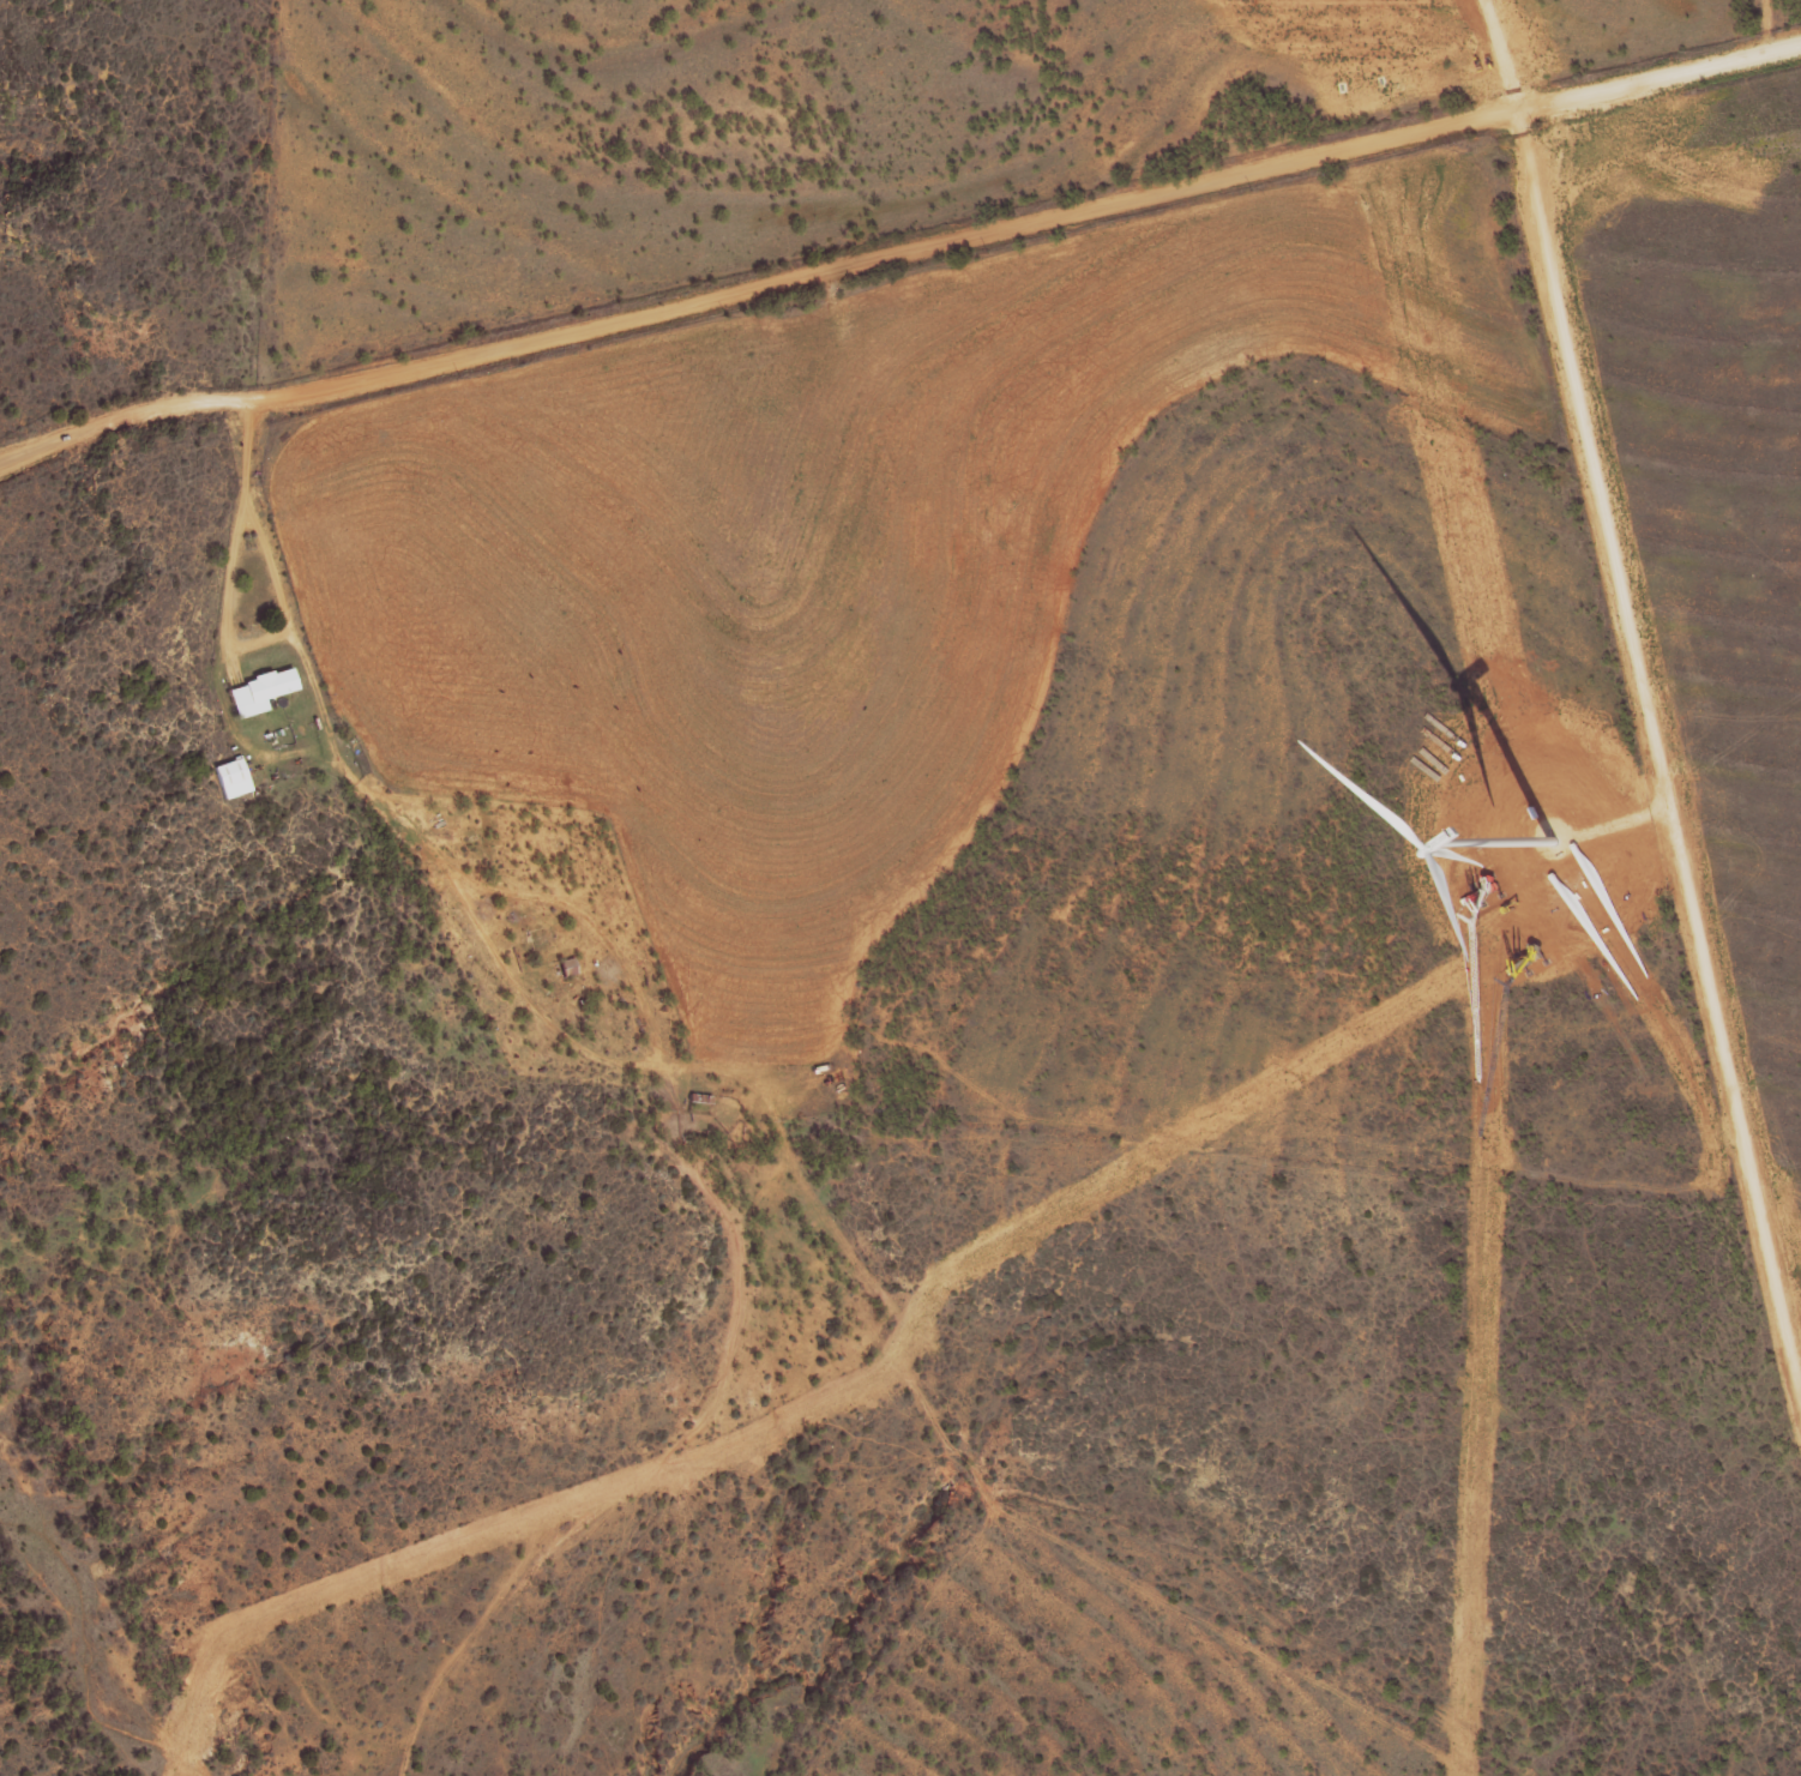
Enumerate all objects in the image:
road: (1766, 26)
road: (898, 247)
building: (261, 691)
road: (1645, 692)
building: (234, 777)
wind turbine: (1556, 842)
road: (661, 1090)

